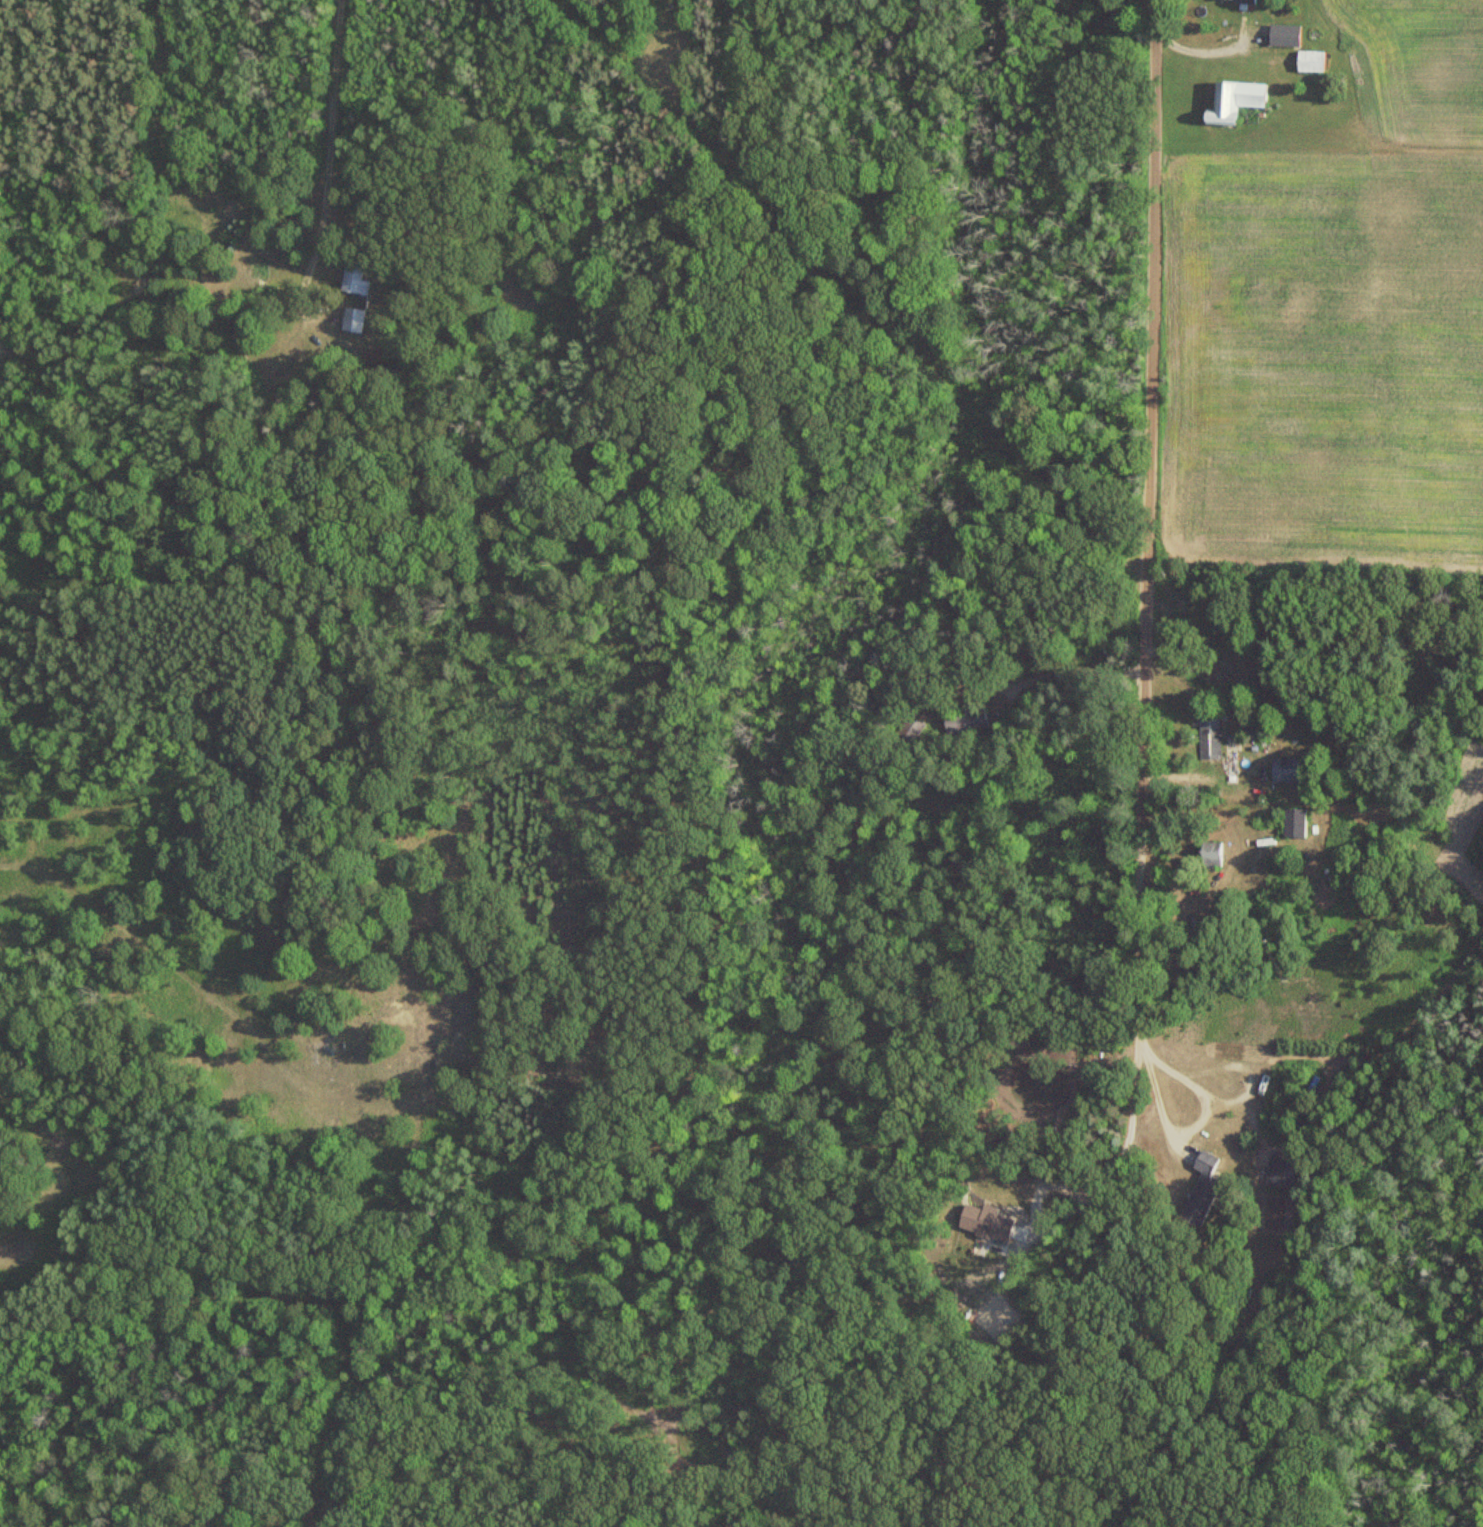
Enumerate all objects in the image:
building: (1233, 1)
building: (1282, 36)
road: (1214, 49)
building: (1307, 62)
building: (1231, 102)
building: (352, 279)
road: (1146, 450)
building: (1207, 738)
building: (1283, 769)
building: (1291, 823)
building: (1207, 857)
road: (1194, 1123)
building: (1202, 1162)
building: (1278, 1172)
road: (7, 1259)
road: (978, 1280)

